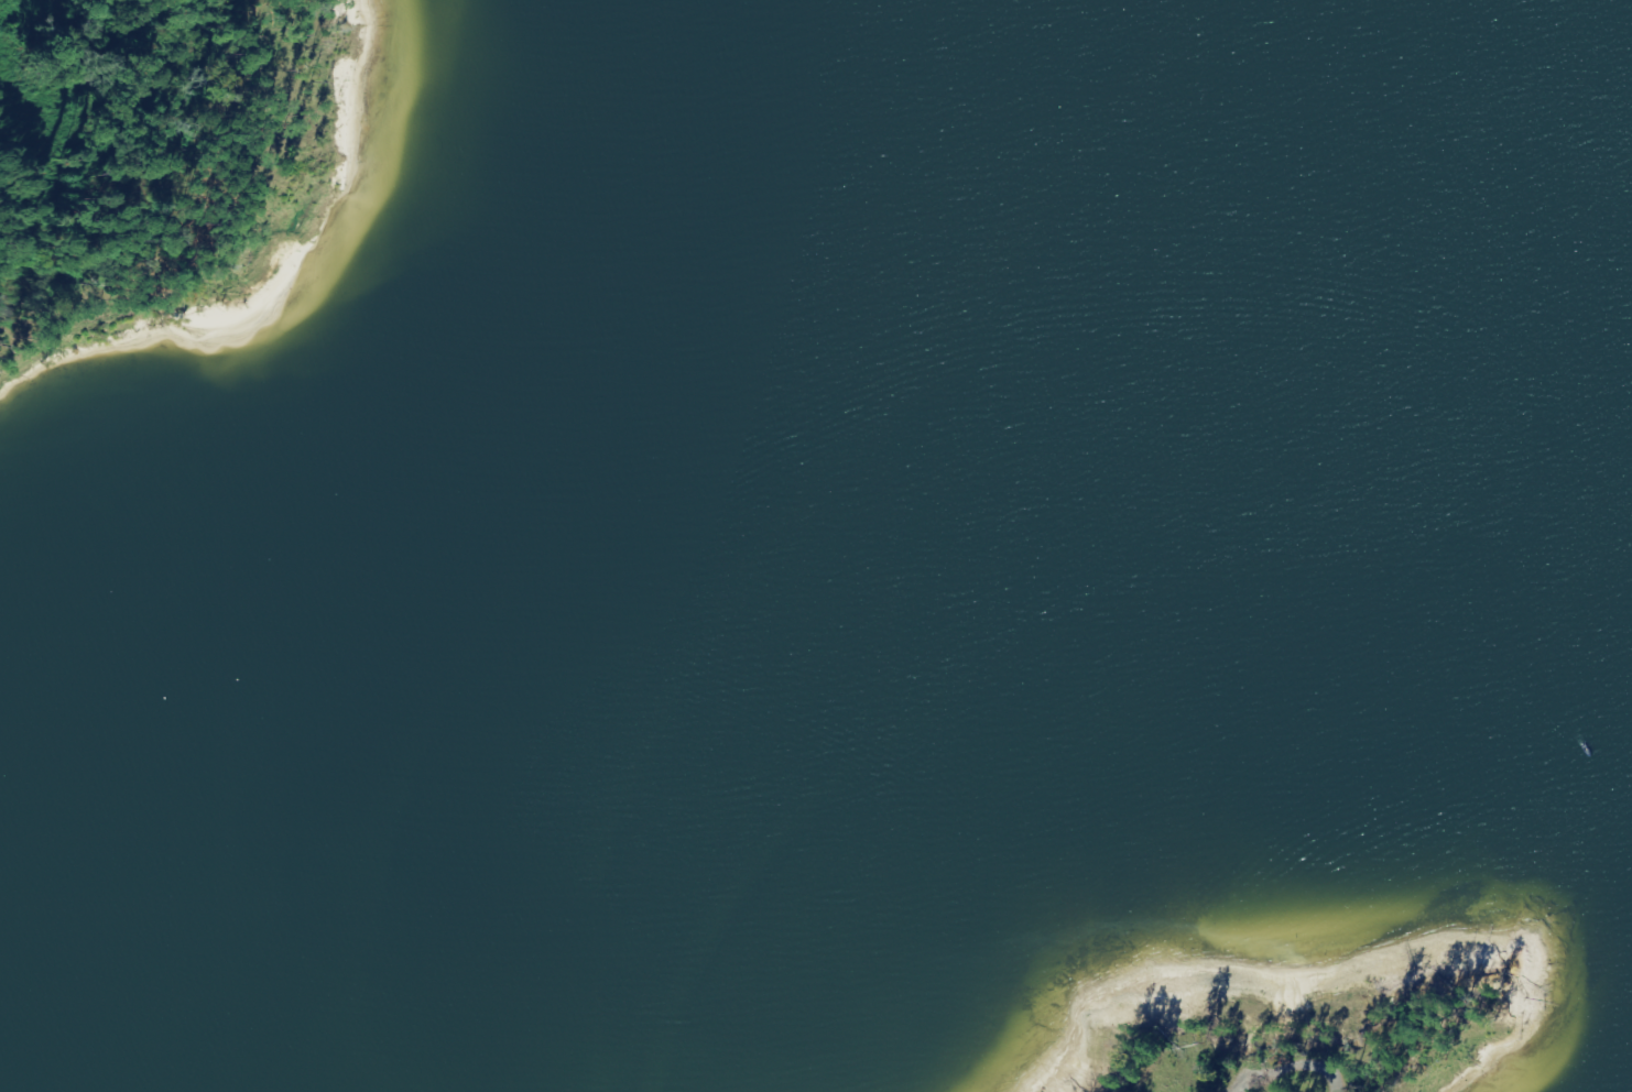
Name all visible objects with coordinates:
road: (1401, 992)

